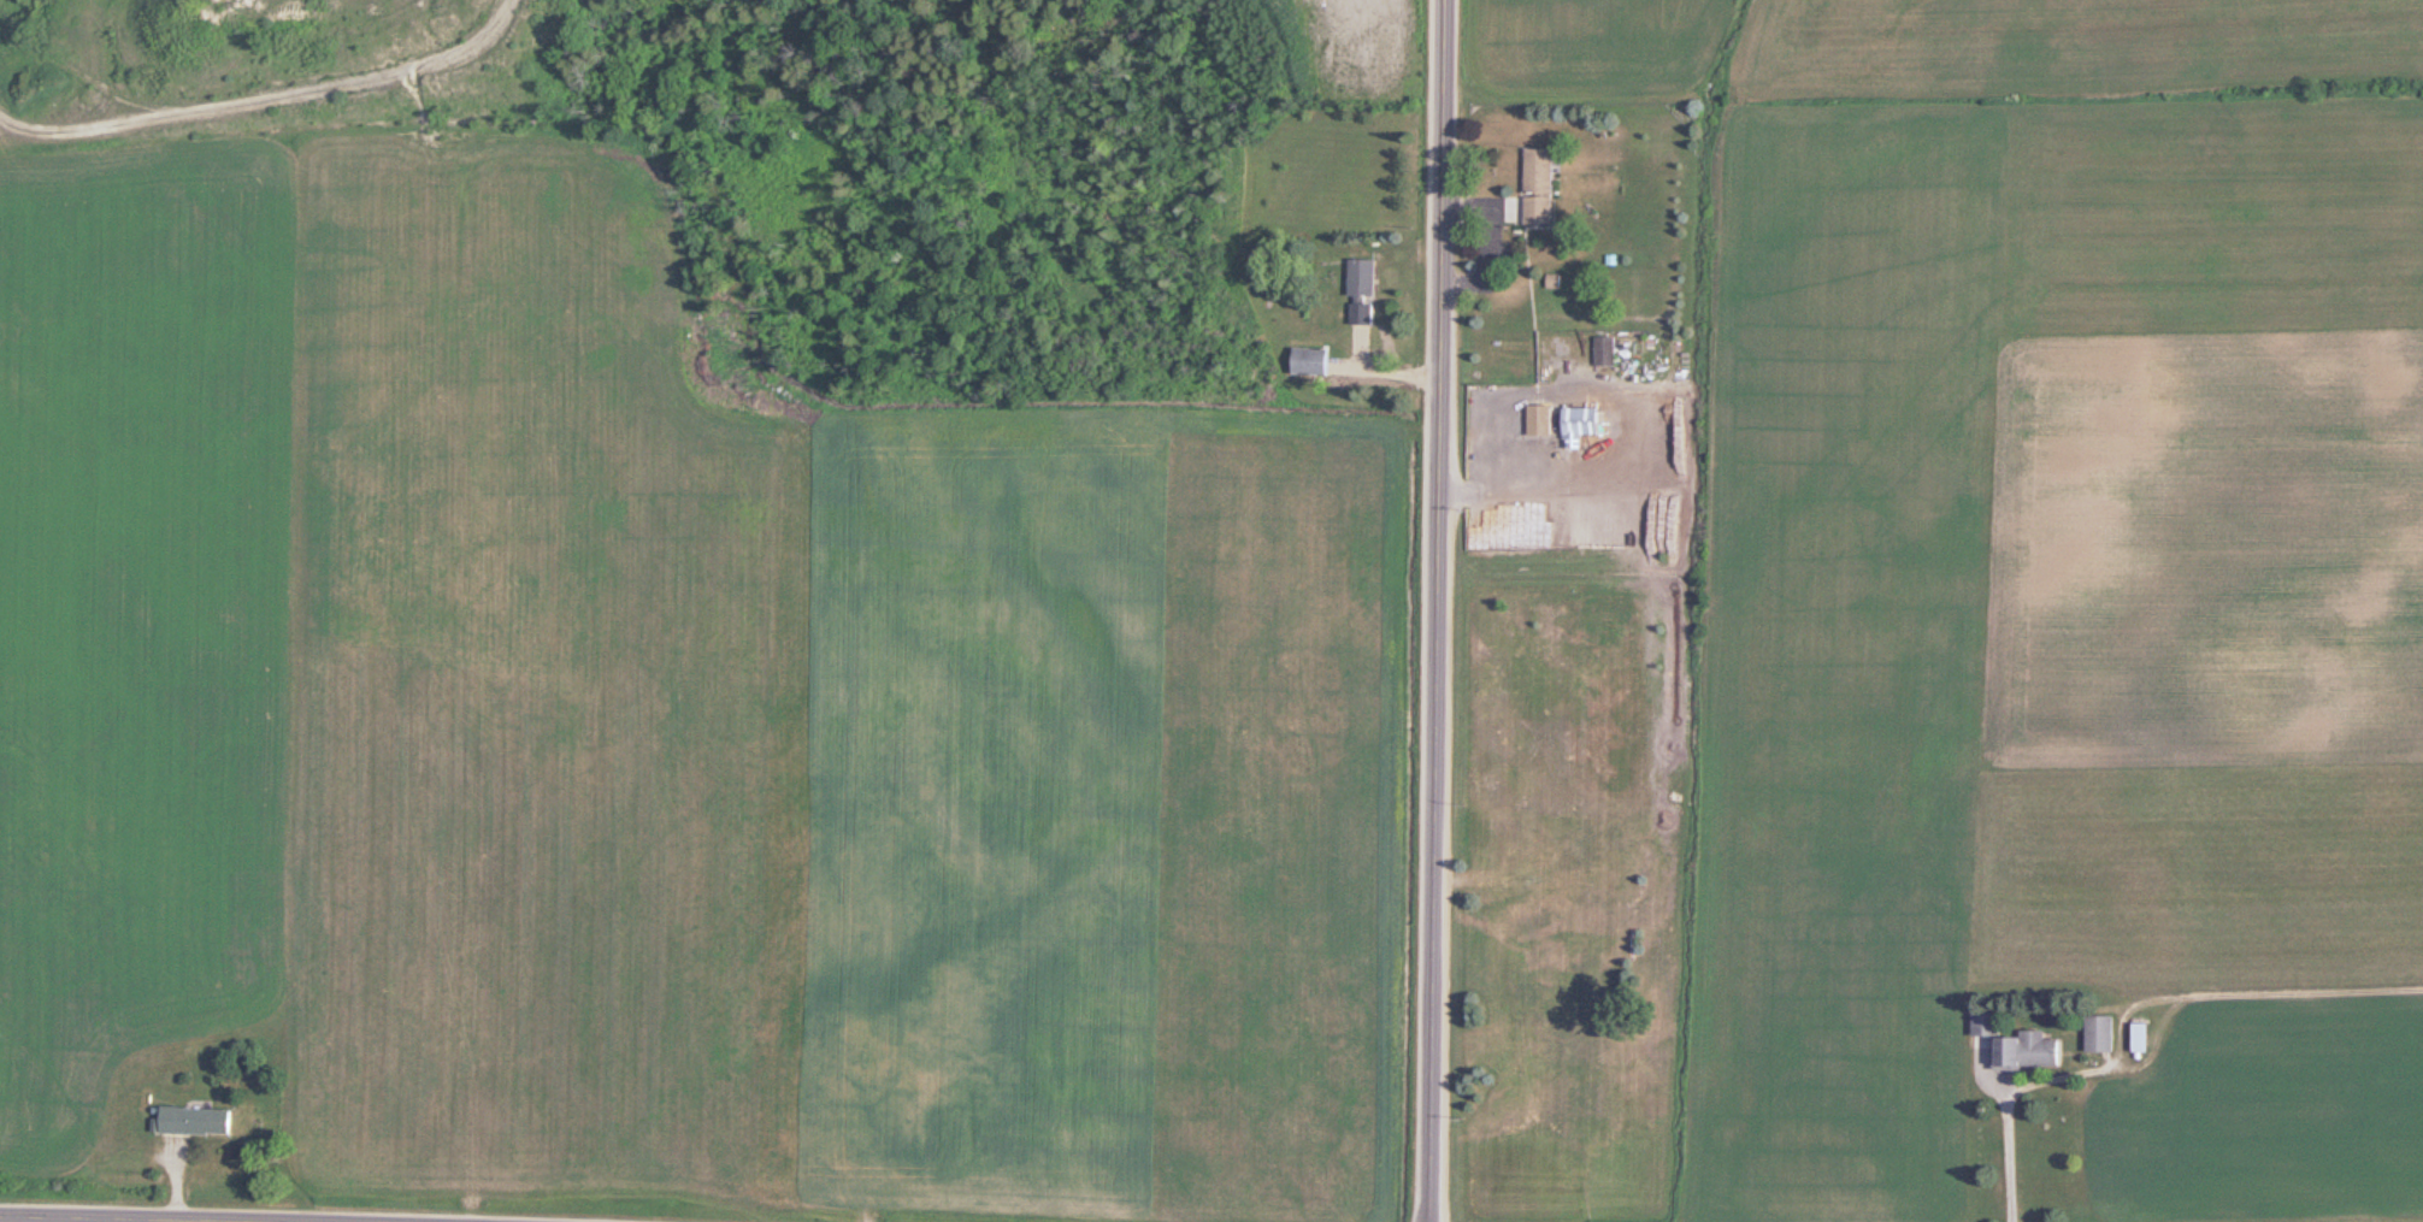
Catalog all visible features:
building: (1547, 188)
building: (1368, 293)
building: (1611, 349)
building: (1317, 361)
building: (1587, 423)
road: (1437, 610)
building: (1993, 1022)
building: (2106, 1032)
building: (2147, 1037)
building: (2021, 1050)
building: (201, 1120)
road: (48, 1220)

